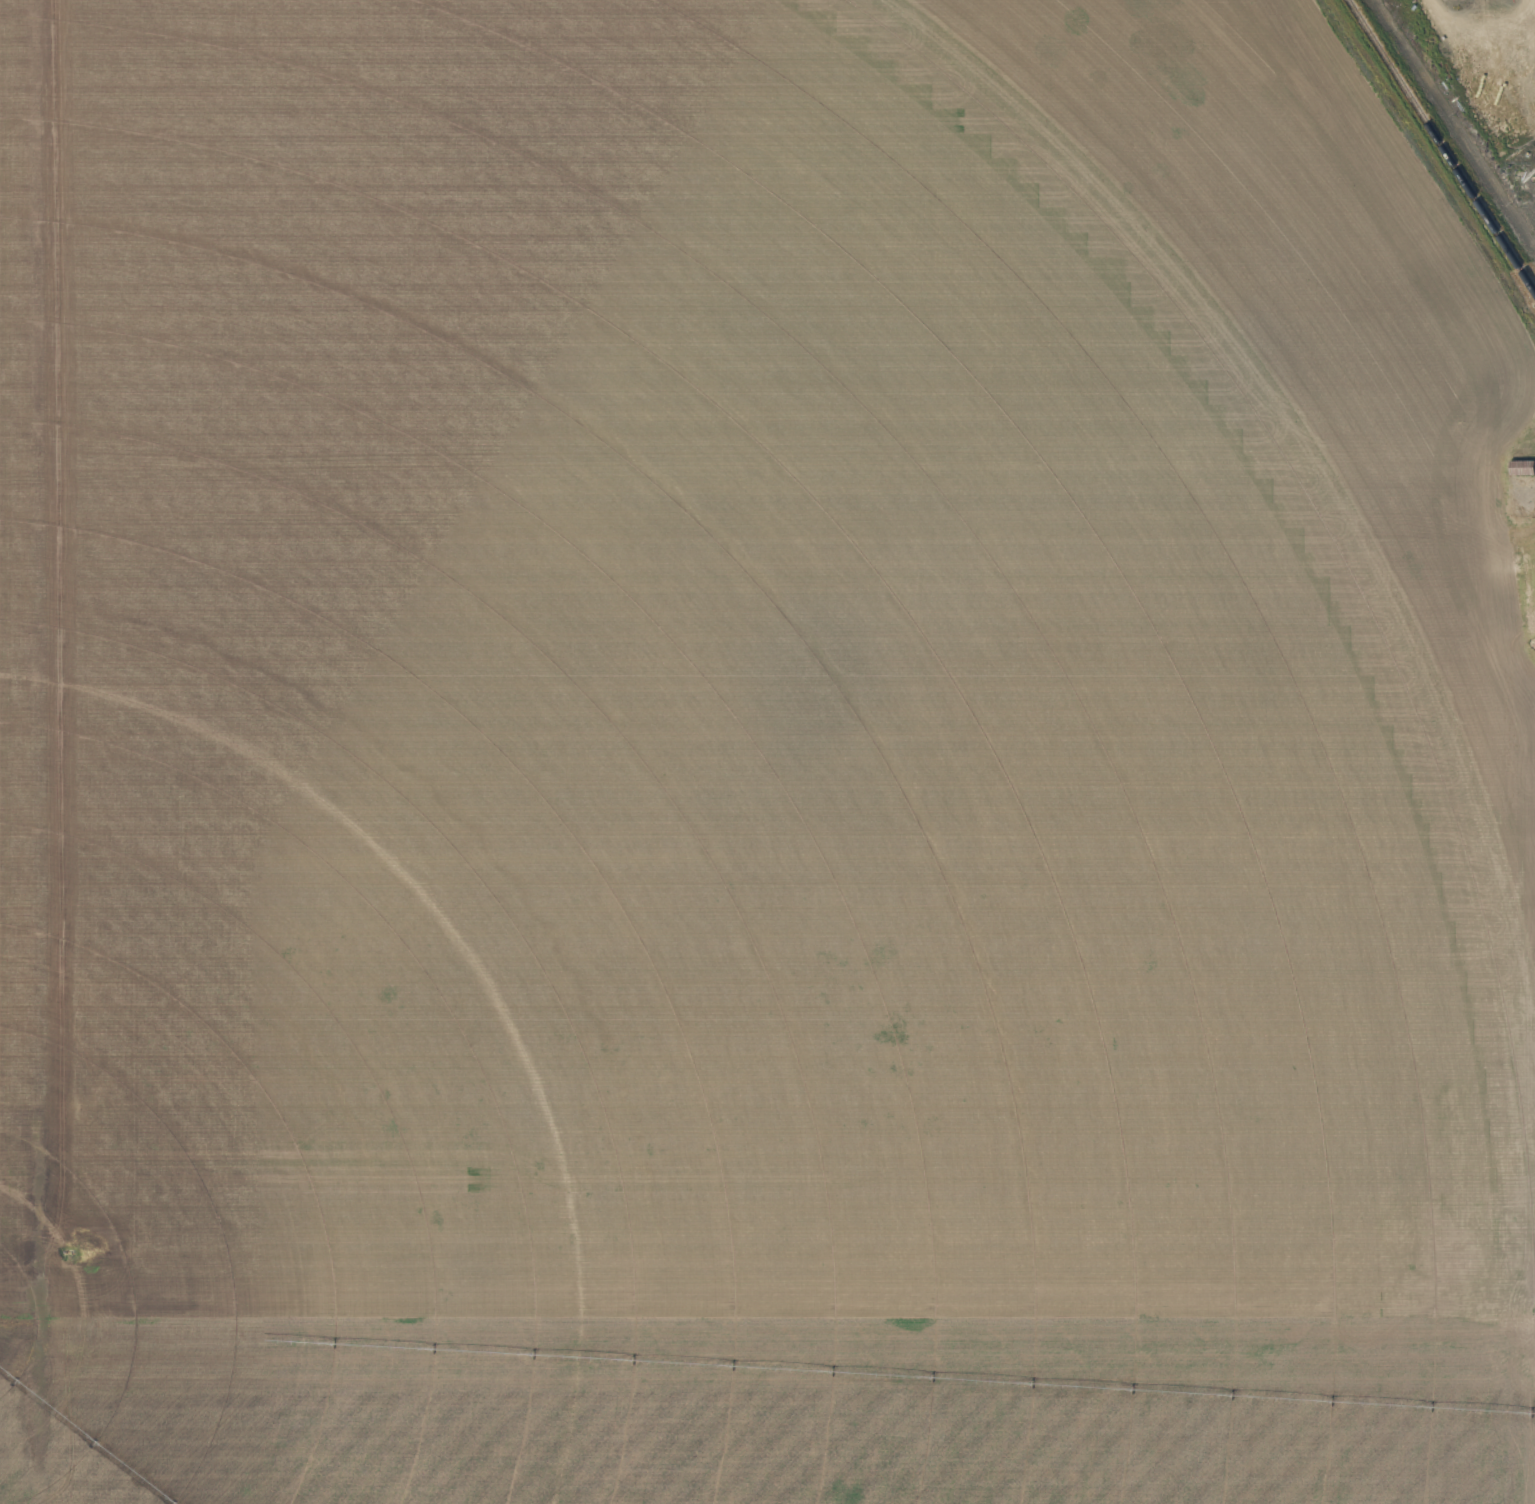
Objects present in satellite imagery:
railway: (1441, 144)

